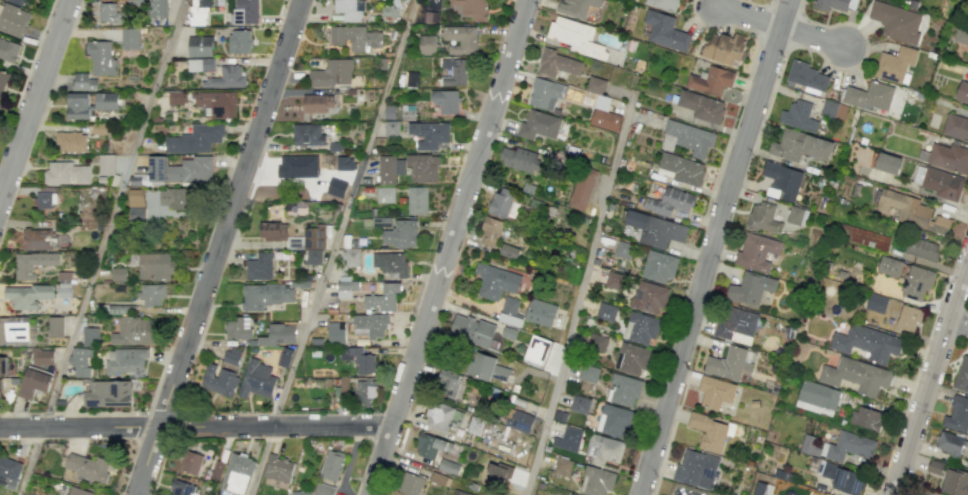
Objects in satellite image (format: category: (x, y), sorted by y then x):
building: (21, 2)
building: (663, 4)
building: (835, 4)
building: (577, 7)
building: (471, 8)
building: (157, 9)
building: (349, 9)
building: (244, 11)
building: (389, 11)
building: (199, 12)
building: (109, 13)
building: (12, 20)
building: (896, 21)
road: (781, 28)
building: (665, 31)
building: (961, 35)
building: (354, 37)
building: (577, 37)
building: (129, 38)
building: (461, 38)
building: (239, 41)
building: (426, 44)
building: (200, 45)
building: (724, 48)
building: (8, 50)
building: (101, 58)
building: (895, 63)
building: (200, 64)
building: (557, 64)
building: (454, 71)
building: (332, 73)
building: (806, 75)
building: (225, 78)
building: (411, 79)
building: (711, 80)
building: (83, 82)
building: (595, 85)
building: (962, 91)
building: (545, 93)
building: (869, 96)
building: (176, 97)
road: (35, 100)
building: (445, 100)
building: (106, 101)
building: (317, 102)
building: (78, 105)
building: (701, 106)
building: (603, 114)
building: (798, 116)
building: (539, 125)
building: (956, 126)
building: (391, 127)
building: (307, 134)
building: (428, 134)
building: (687, 138)
building: (195, 139)
building: (71, 141)
building: (800, 146)
building: (949, 157)
building: (517, 159)
building: (344, 163)
building: (887, 163)
building: (106, 164)
building: (298, 165)
building: (422, 167)
building: (680, 168)
building: (389, 169)
building: (176, 170)
building: (65, 173)
building: (782, 180)
building: (938, 182)
building: (336, 187)
building: (581, 188)
building: (385, 194)
building: (177, 198)
building: (45, 199)
building: (417, 200)
building: (500, 202)
building: (669, 202)
building: (136, 205)
building: (912, 211)
building: (794, 215)
building: (763, 218)
building: (382, 221)
building: (655, 229)
building: (490, 231)
building: (400, 234)
building: (863, 237)
building: (36, 239)
building: (297, 240)
road: (712, 246)
road: (102, 247)
road: (218, 247)
road: (333, 247)
road: (447, 247)
building: (921, 248)
building: (622, 249)
building: (508, 251)
building: (756, 252)
building: (352, 258)
building: (390, 262)
building: (32, 263)
building: (155, 266)
building: (258, 266)
building: (658, 266)
building: (889, 266)
building: (118, 273)
building: (614, 280)
building: (495, 281)
building: (916, 282)
building: (345, 287)
building: (750, 288)
building: (64, 290)
building: (152, 294)
road: (579, 294)
building: (26, 295)
building: (264, 295)
building: (382, 297)
building: (648, 297)
building: (876, 302)
building: (509, 311)
building: (605, 311)
building: (539, 312)
building: (908, 318)
building: (736, 324)
road: (959, 324)
building: (369, 325)
building: (55, 326)
building: (640, 327)
building: (237, 328)
building: (13, 329)
building: (471, 329)
building: (133, 331)
building: (335, 332)
building: (278, 334)
building: (90, 335)
building: (596, 342)
building: (866, 343)
building: (536, 351)
building: (42, 356)
building: (230, 356)
building: (284, 356)
building: (632, 358)
building: (358, 359)
building: (125, 360)
building: (80, 361)
building: (728, 364)
building: (3, 365)
building: (486, 367)
building: (588, 373)
building: (962, 374)
building: (856, 375)
road: (932, 378)
building: (256, 379)
building: (219, 380)
building: (34, 382)
building: (448, 384)
building: (0, 388)
building: (622, 390)
building: (365, 391)
building: (715, 391)
building: (107, 393)
building: (816, 396)
building: (579, 404)
building: (957, 414)
building: (440, 416)
building: (867, 417)
building: (614, 420)
building: (521, 421)
building: (474, 425)
road: (194, 427)
building: (709, 432)
building: (567, 439)
building: (949, 443)
building: (431, 445)
building: (838, 446)
building: (603, 449)
building: (190, 462)
building: (331, 464)
building: (967, 465)
building: (448, 466)
building: (562, 466)
building: (935, 466)
building: (88, 467)
building: (278, 468)
building: (825, 468)
building: (217, 469)
building: (696, 469)
building: (9, 471)
building: (497, 472)
building: (236, 473)
road: (909, 475)
building: (439, 479)
building: (596, 481)
building: (848, 481)
building: (954, 482)
building: (410, 483)
building: (182, 488)
building: (323, 489)
building: (761, 489)
building: (78, 491)
building: (300, 492)
building: (458, 493)

